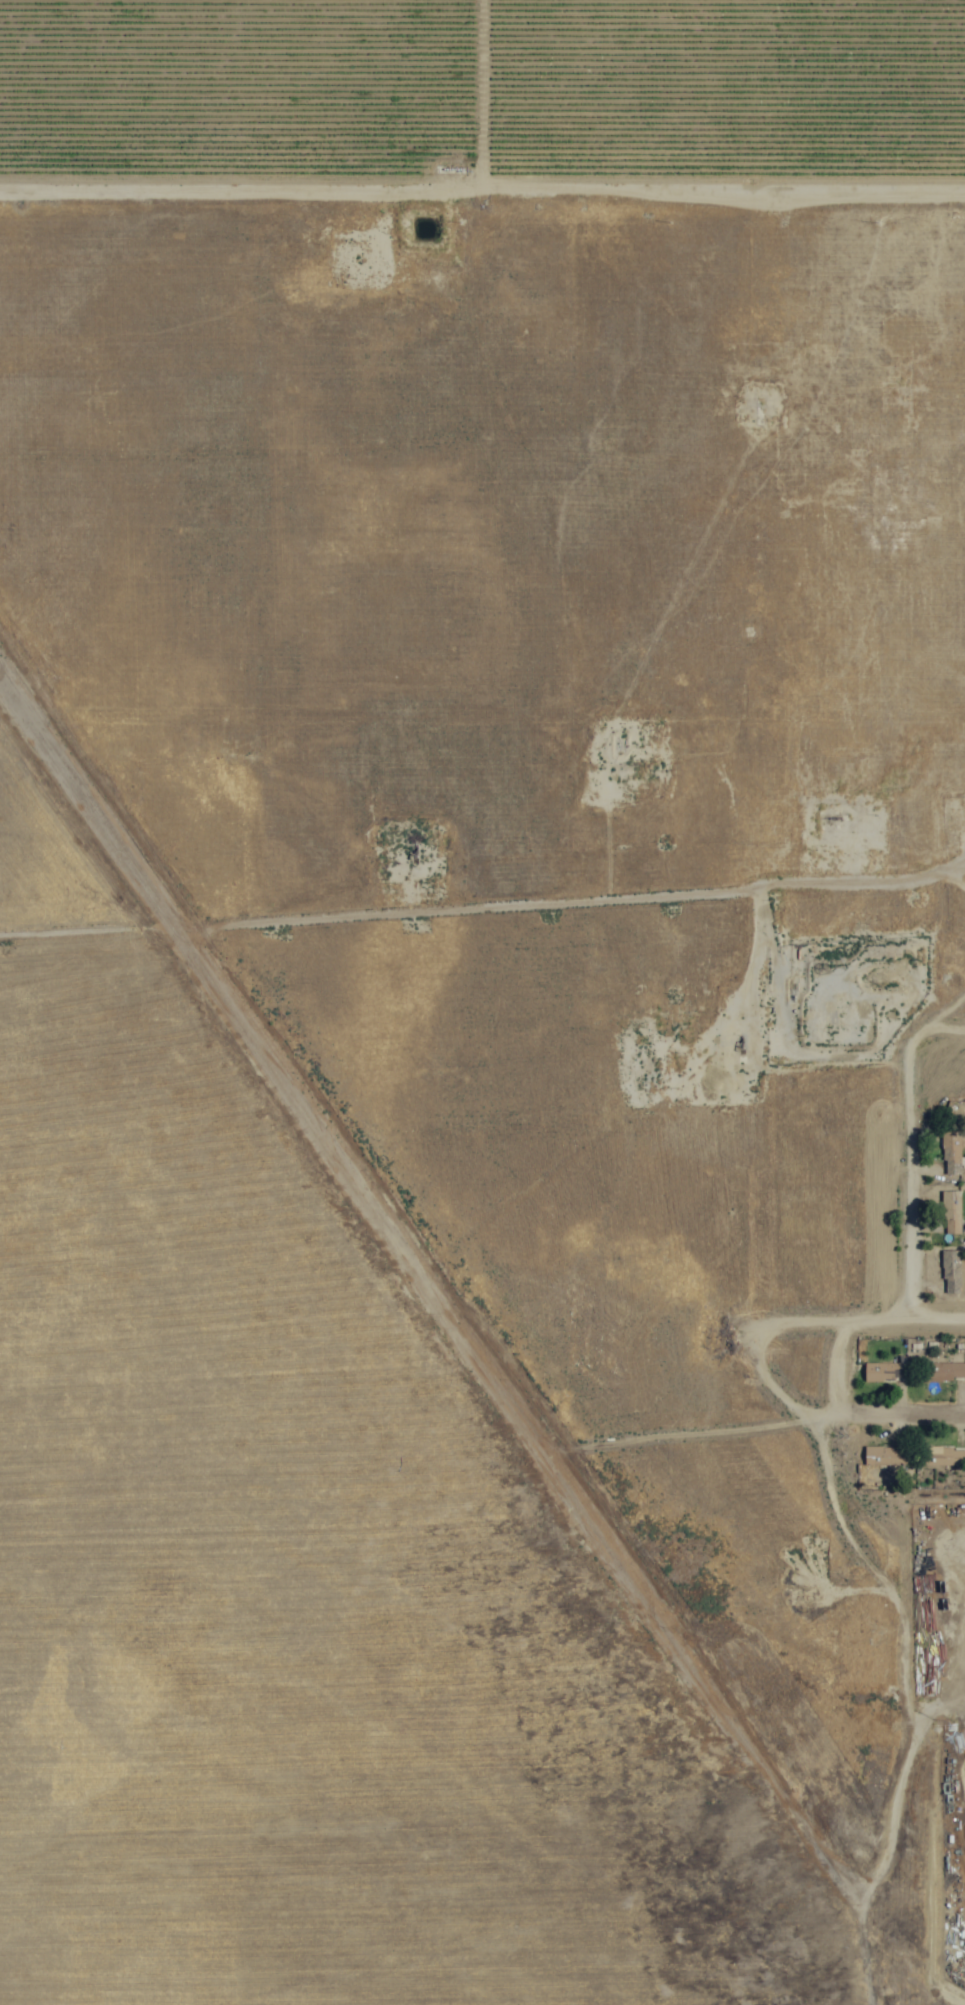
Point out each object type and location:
crop: (478, 95)
road: (482, 187)
building: (949, 1153)
road: (876, 1169)
airport runway: (362, 1191)
building: (949, 1213)
airport: (409, 1248)
building: (949, 1272)
road: (764, 1329)
building: (883, 1372)
building: (943, 1372)
building: (944, 1453)
building: (883, 1456)

